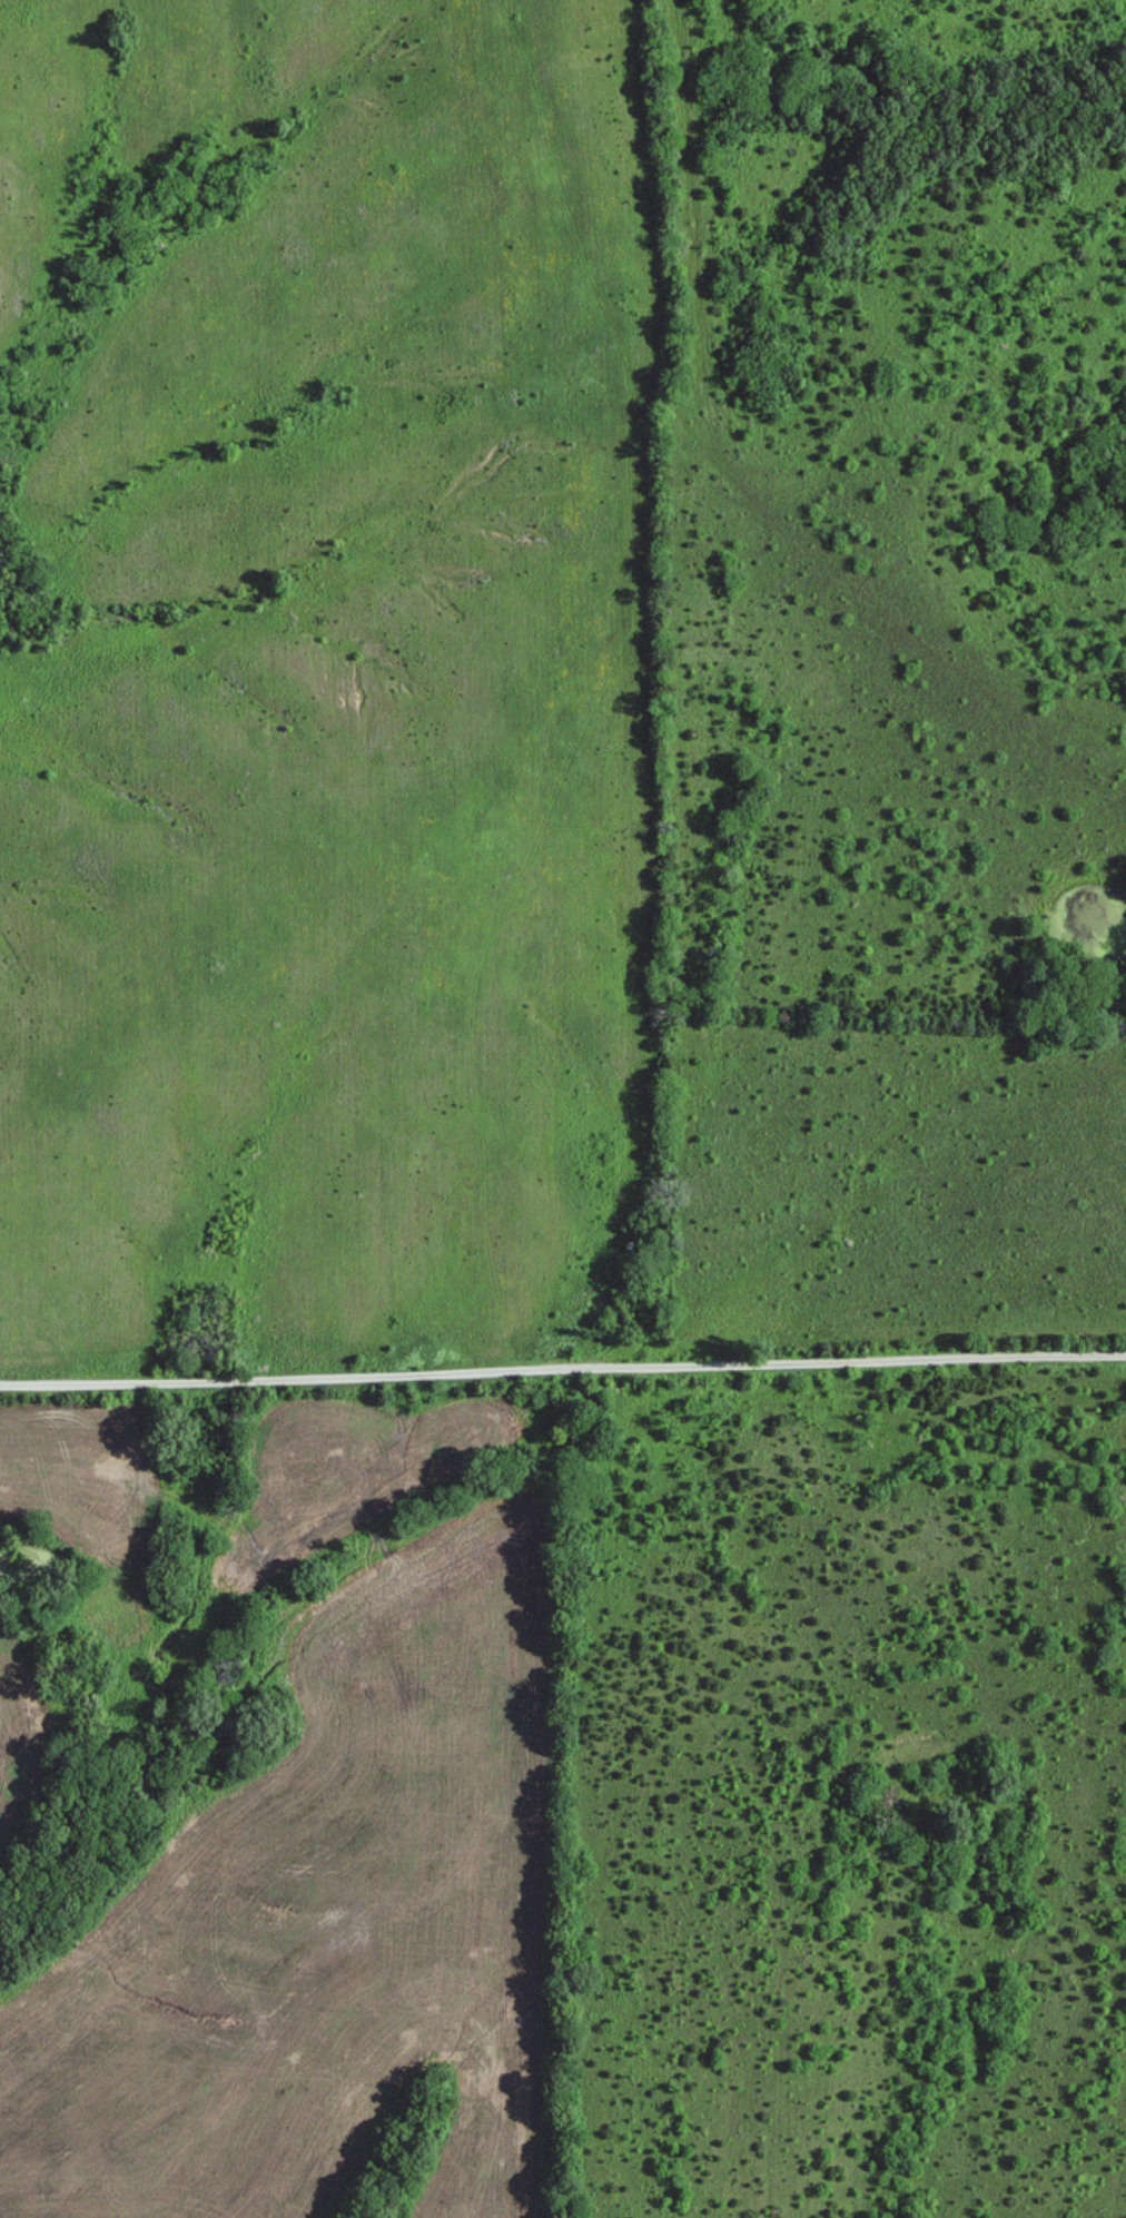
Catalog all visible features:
road: (562, 1366)

